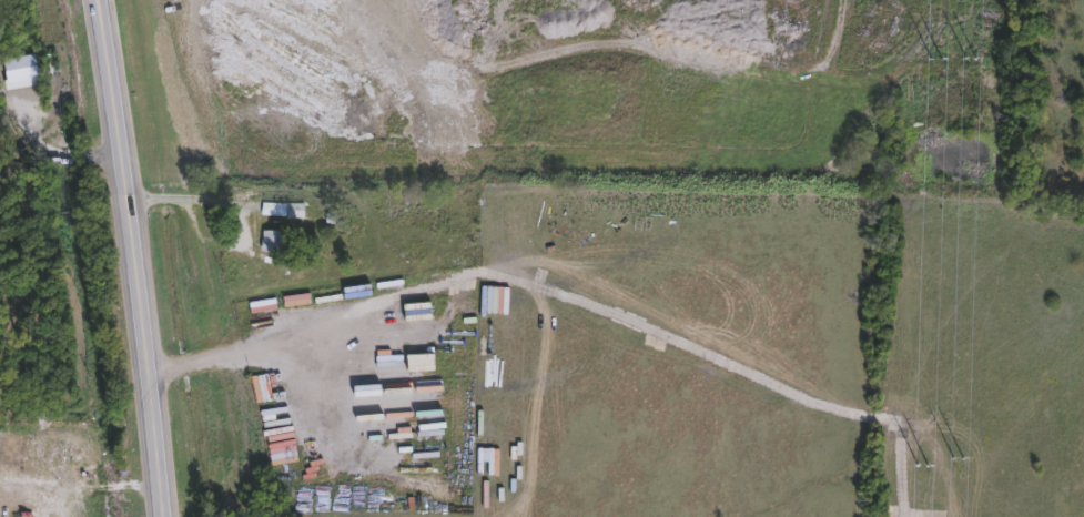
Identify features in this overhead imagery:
power tower: (931, 59)
power tower: (971, 64)
road: (189, 200)
building: (293, 211)
building: (270, 242)
road: (128, 257)
power tower: (916, 465)
power tower: (960, 474)

